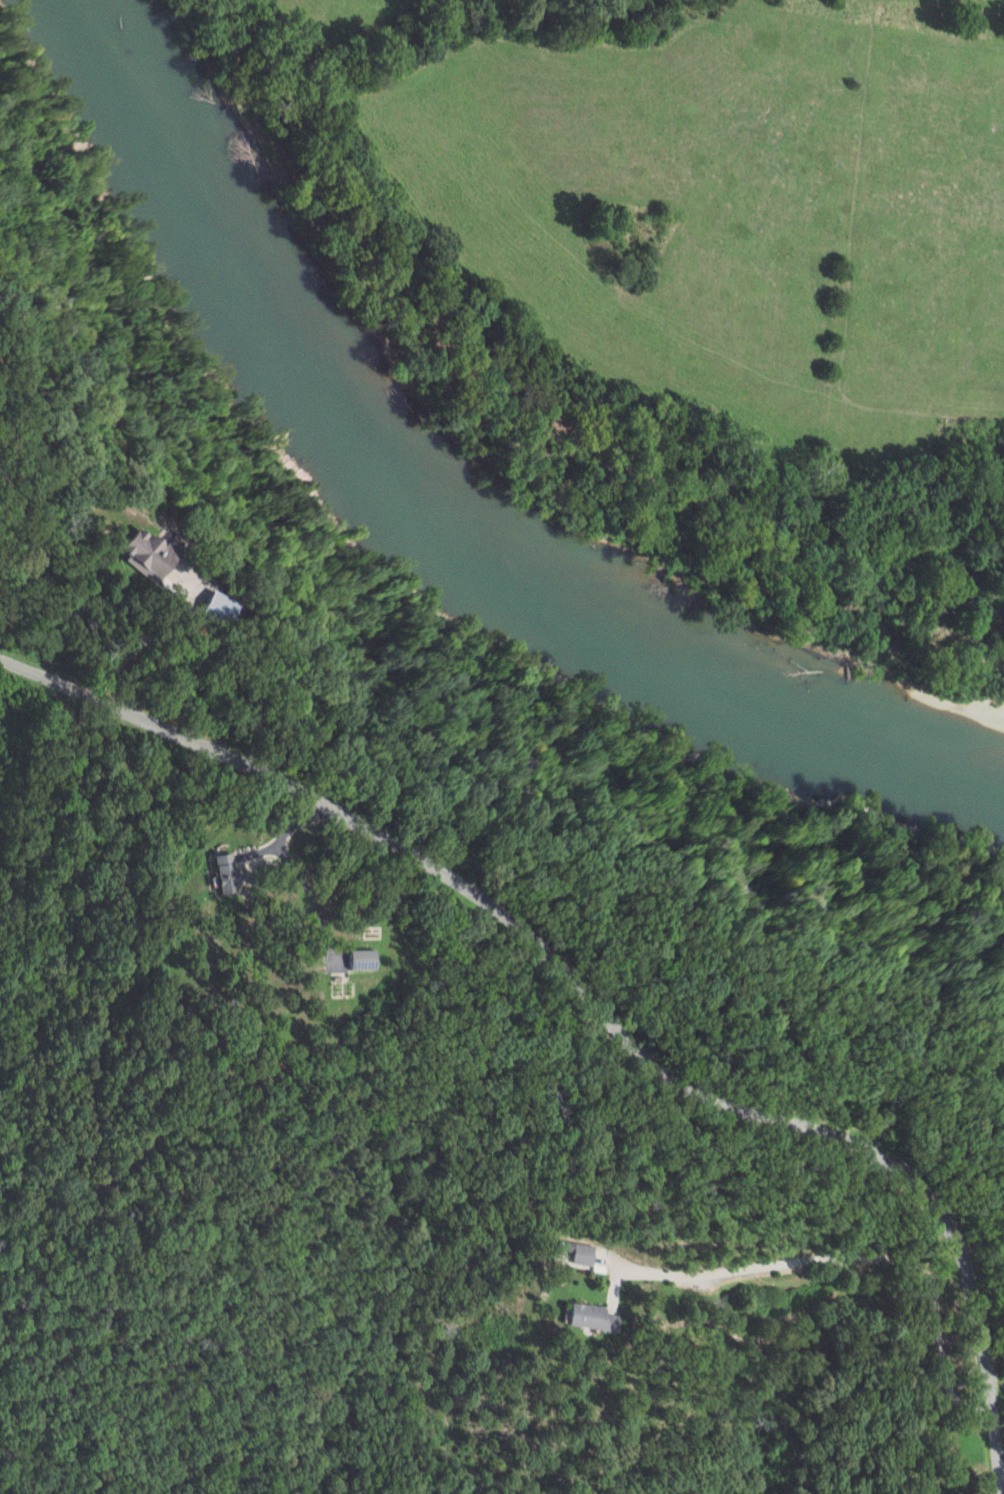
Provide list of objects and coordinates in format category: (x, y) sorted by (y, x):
river: (418, 548)
building: (154, 554)
building: (220, 608)
road: (131, 618)
building: (227, 874)
building: (373, 959)
road: (594, 1011)
building: (585, 1254)
building: (595, 1318)

